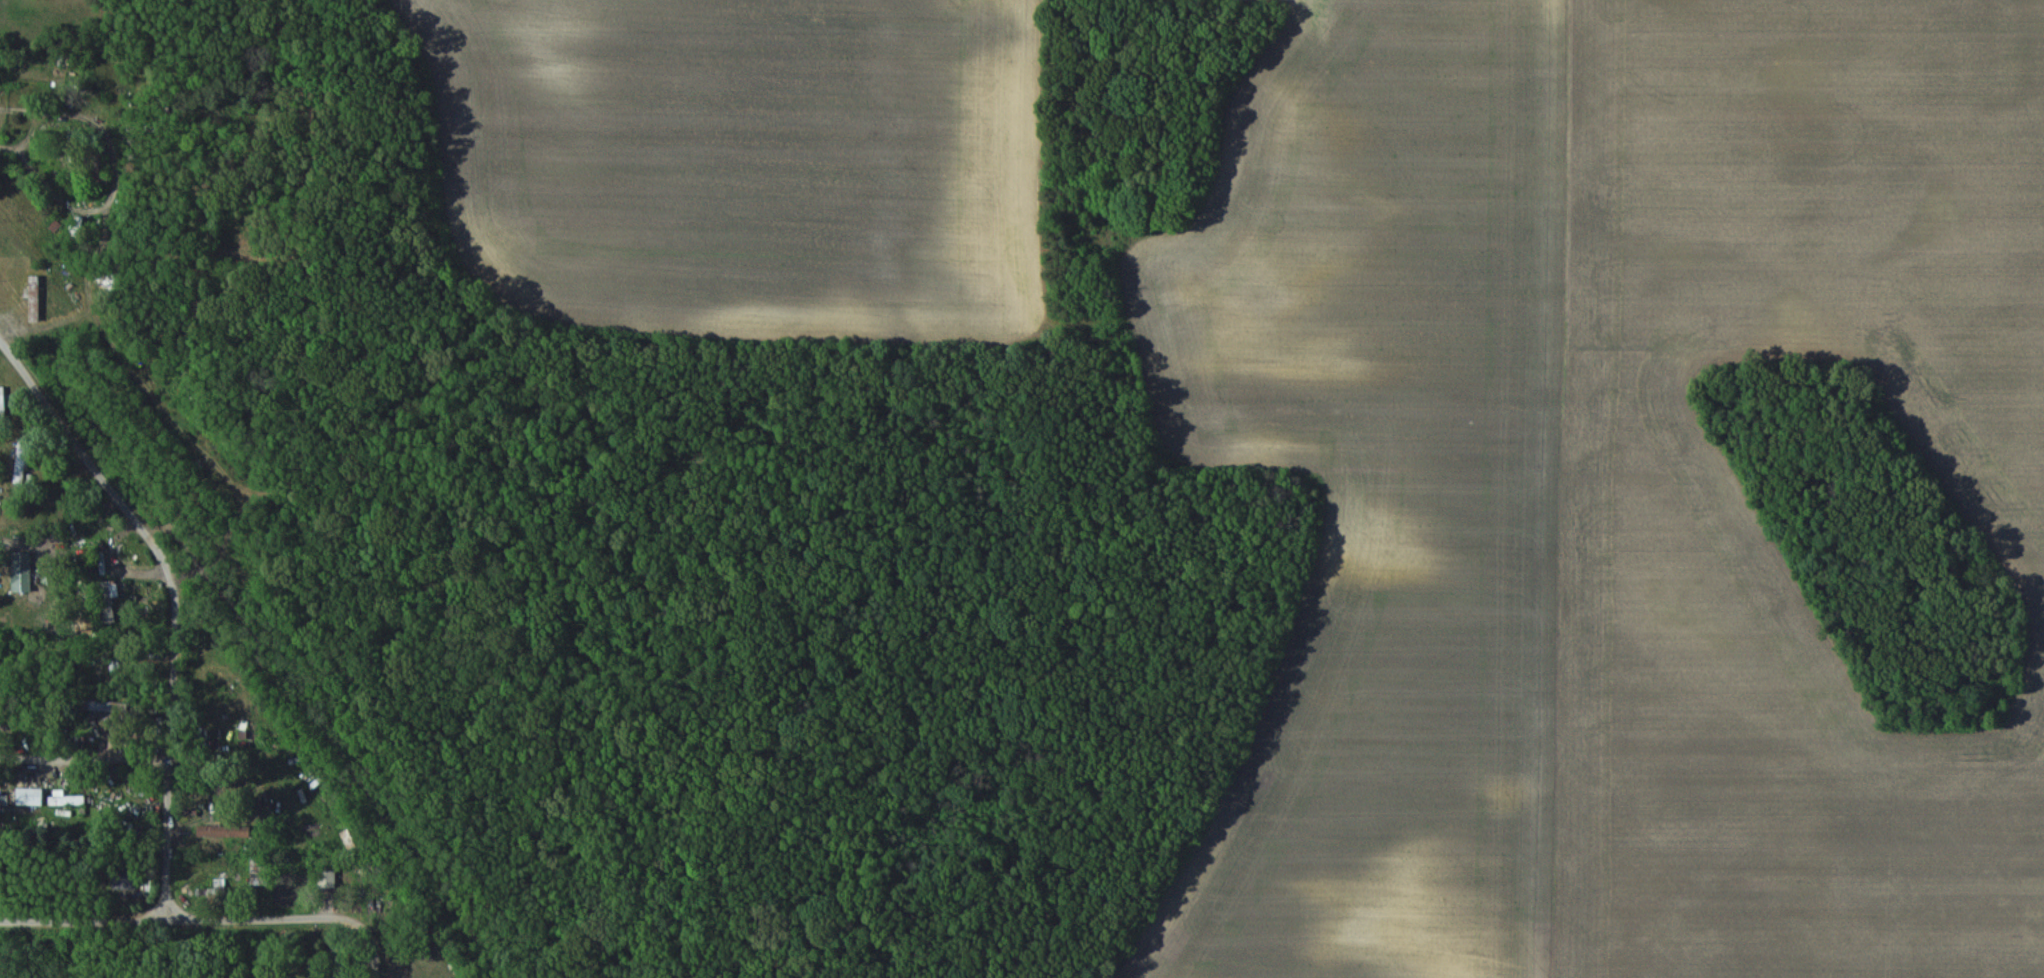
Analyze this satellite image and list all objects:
road: (120, 176)
building: (33, 298)
building: (19, 460)
road: (103, 473)
building: (21, 572)
building: (109, 589)
road: (84, 754)
road: (168, 768)
building: (66, 802)
building: (327, 877)
road: (151, 915)
road: (365, 917)

